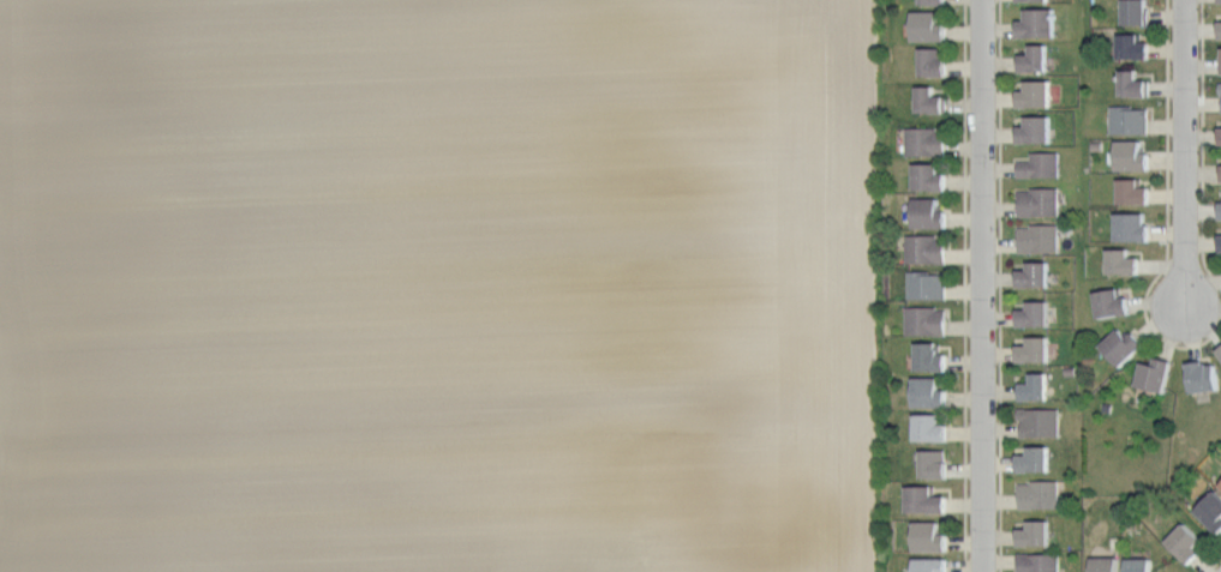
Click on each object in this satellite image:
building: (1036, 0)
building: (1216, 0)
building: (936, 2)
building: (1138, 13)
building: (1040, 23)
building: (932, 26)
building: (1216, 26)
building: (1136, 46)
building: (1217, 58)
building: (1036, 59)
building: (935, 62)
building: (1135, 83)
building: (1037, 95)
building: (1217, 95)
building: (933, 101)
building: (1131, 121)
building: (1037, 131)
building: (1216, 133)
building: (927, 140)
road: (1203, 145)
road: (1184, 151)
building: (1133, 156)
building: (1041, 164)
building: (1217, 170)
building: (932, 176)
building: (1135, 192)
building: (1039, 204)
road: (1167, 207)
building: (1216, 207)
building: (930, 215)
building: (1133, 227)
building: (1041, 236)
building: (1216, 241)
building: (929, 248)
building: (1124, 260)
building: (1036, 275)
crop: (439, 285)
building: (929, 285)
road: (965, 285)
road: (981, 285)
road: (1000, 285)
building: (1113, 303)
building: (1036, 314)
building: (929, 320)
building: (1126, 344)
building: (1220, 349)
building: (1037, 350)
building: (932, 356)
building: (1157, 374)
building: (1203, 375)
building: (1036, 387)
building: (932, 392)
building: (1041, 422)
building: (933, 428)
building: (1037, 459)
building: (936, 464)
building: (1217, 483)
building: (1041, 496)
building: (928, 500)
building: (1213, 510)
building: (1036, 532)
building: (933, 537)
building: (1189, 543)
building: (1037, 561)
building: (932, 564)
building: (1107, 564)
road: (1213, 564)
building: (1142, 565)

